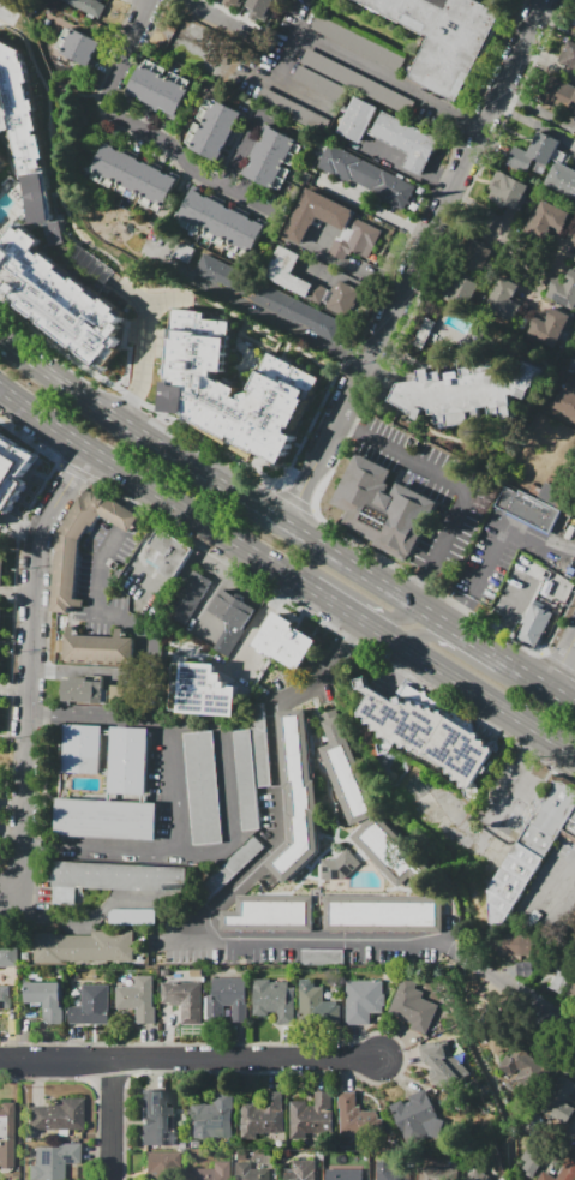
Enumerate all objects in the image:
building: (235, 2)
building: (85, 6)
building: (260, 7)
road: (4, 14)
road: (140, 16)
building: (443, 37)
building: (196, 38)
building: (359, 41)
road: (292, 43)
building: (79, 47)
building: (568, 53)
road: (546, 60)
road: (253, 72)
road: (388, 79)
building: (355, 82)
building: (319, 84)
building: (157, 89)
building: (573, 104)
road: (535, 108)
building: (292, 110)
building: (355, 120)
road: (534, 121)
building: (211, 128)
road: (154, 136)
building: (24, 138)
building: (405, 140)
road: (241, 149)
building: (0, 152)
building: (533, 156)
building: (271, 160)
building: (2, 161)
road: (395, 168)
building: (132, 174)
building: (364, 178)
building: (561, 180)
building: (509, 192)
road: (371, 205)
building: (315, 215)
building: (550, 220)
building: (218, 222)
road: (484, 228)
building: (357, 241)
building: (573, 241)
building: (184, 254)
building: (475, 254)
road: (110, 258)
road: (345, 259)
road: (411, 260)
building: (574, 260)
building: (88, 264)
building: (286, 271)
building: (227, 277)
road: (108, 278)
road: (347, 282)
building: (505, 287)
building: (460, 289)
building: (564, 290)
road: (134, 292)
building: (316, 294)
building: (56, 298)
building: (341, 300)
road: (252, 310)
building: (299, 313)
building: (552, 328)
building: (421, 331)
road: (240, 333)
road: (157, 341)
road: (142, 342)
road: (275, 346)
building: (574, 365)
building: (232, 387)
building: (466, 391)
building: (565, 400)
building: (574, 460)
building: (12, 469)
road: (460, 484)
building: (552, 495)
road: (136, 496)
building: (381, 508)
building: (527, 509)
road: (122, 519)
road: (284, 525)
road: (501, 526)
road: (18, 527)
building: (166, 553)
building: (0, 563)
building: (523, 570)
road: (287, 571)
building: (62, 575)
road: (150, 580)
road: (212, 591)
road: (354, 594)
building: (187, 600)
building: (0, 606)
road: (455, 611)
road: (510, 618)
building: (229, 619)
road: (260, 623)
building: (533, 624)
road: (144, 637)
building: (286, 641)
building: (92, 649)
road: (30, 657)
road: (463, 659)
road: (562, 661)
road: (394, 673)
road: (14, 690)
building: (205, 690)
building: (82, 691)
building: (116, 691)
road: (490, 723)
building: (427, 736)
building: (83, 754)
building: (126, 765)
building: (248, 767)
building: (347, 772)
road: (514, 780)
road: (227, 783)
building: (202, 787)
building: (294, 796)
road: (170, 802)
road: (443, 804)
building: (103, 820)
building: (532, 847)
building: (389, 850)
building: (334, 865)
building: (113, 879)
road: (559, 882)
road: (20, 890)
road: (222, 894)
road: (10, 904)
building: (116, 914)
building: (268, 914)
building: (382, 914)
road: (86, 920)
building: (516, 945)
building: (84, 947)
building: (7, 954)
building: (319, 956)
road: (468, 964)
building: (521, 969)
building: (561, 975)
building: (573, 989)
building: (5, 998)
building: (228, 999)
building: (272, 999)
building: (136, 1000)
building: (363, 1000)
building: (46, 1001)
building: (190, 1004)
building: (317, 1004)
road: (529, 1004)
building: (94, 1005)
building: (412, 1005)
road: (188, 1061)
building: (442, 1062)
building: (523, 1067)
building: (561, 1100)
building: (347, 1113)
building: (58, 1116)
building: (263, 1116)
building: (415, 1116)
building: (211, 1118)
building: (154, 1119)
road: (113, 1120)
building: (312, 1120)
building: (5, 1133)
building: (54, 1161)
building: (158, 1164)
building: (563, 1168)
building: (388, 1170)
building: (475, 1170)
building: (246, 1172)
building: (300, 1172)
building: (211, 1173)
building: (437, 1173)
building: (343, 1175)

